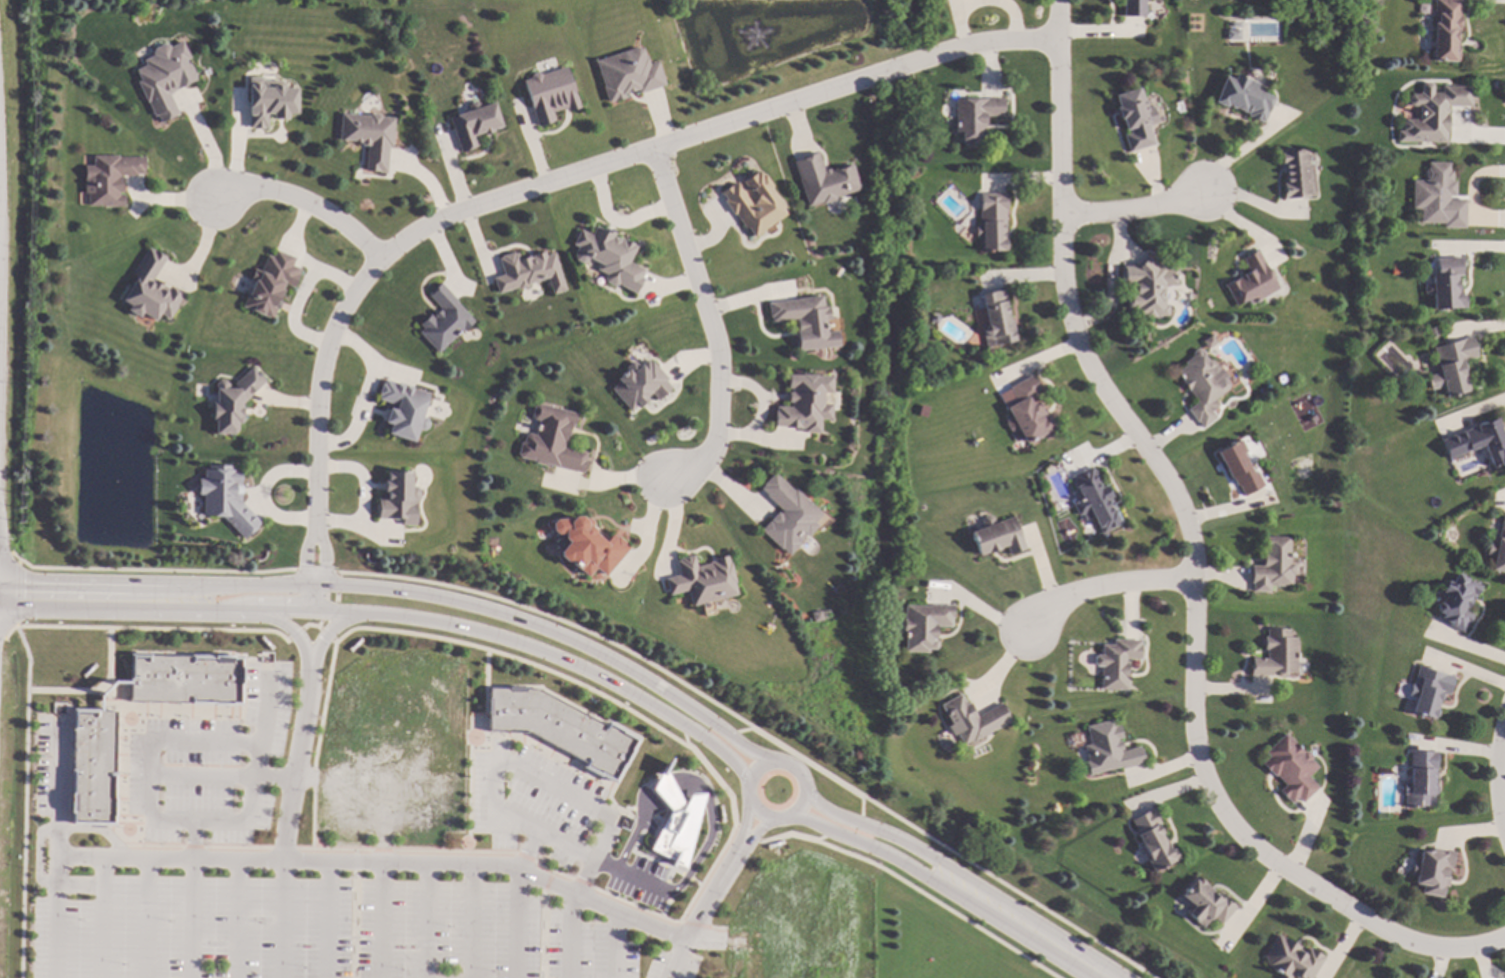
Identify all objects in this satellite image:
building: (1132, 8)
building: (1420, 8)
building: (1233, 24)
building: (1444, 30)
building: (1232, 34)
building: (626, 73)
building: (163, 78)
building: (548, 93)
building: (1243, 96)
building: (267, 102)
building: (1431, 111)
building: (974, 116)
building: (1134, 118)
building: (472, 125)
building: (367, 136)
road: (207, 147)
road: (577, 175)
building: (1296, 175)
building: (108, 178)
building: (822, 178)
building: (1436, 197)
building: (753, 204)
road: (303, 205)
road: (1133, 208)
building: (991, 222)
building: (608, 257)
building: (526, 270)
building: (1251, 280)
building: (268, 283)
building: (1444, 283)
building: (1146, 287)
building: (148, 289)
building: (442, 318)
building: (934, 318)
building: (995, 318)
building: (803, 321)
road: (709, 325)
building: (1431, 331)
building: (1450, 366)
building: (638, 383)
building: (1202, 385)
road: (364, 395)
building: (231, 399)
building: (803, 404)
building: (403, 410)
building: (1025, 410)
building: (921, 411)
building: (549, 439)
building: (1476, 441)
building: (1240, 466)
road: (606, 482)
building: (397, 498)
building: (224, 499)
building: (1093, 499)
building: (785, 516)
road: (645, 531)
building: (995, 534)
building: (586, 544)
building: (1498, 548)
road: (6, 553)
road: (1194, 556)
building: (1275, 565)
road: (305, 569)
road: (150, 570)
road: (322, 571)
building: (701, 580)
road: (220, 585)
road: (1107, 587)
road: (17, 593)
road: (52, 597)
road: (307, 598)
road: (334, 598)
building: (1457, 602)
road: (216, 610)
building: (815, 615)
road: (251, 617)
road: (322, 618)
road: (555, 618)
building: (923, 625)
road: (543, 627)
road: (329, 632)
road: (345, 632)
road: (2, 637)
road: (525, 644)
building: (1277, 654)
building: (1115, 662)
building: (183, 677)
building: (1428, 690)
road: (95, 693)
road: (112, 699)
road: (266, 707)
building: (971, 719)
building: (558, 726)
road: (739, 731)
road: (682, 734)
road: (252, 744)
road: (317, 747)
road: (746, 748)
building: (1107, 748)
road: (468, 750)
road: (727, 755)
road: (806, 762)
building: (90, 765)
road: (789, 767)
building: (1290, 767)
parking lot: (207, 768)
road: (523, 774)
road: (156, 776)
road: (1496, 776)
building: (1420, 779)
road: (717, 783)
road: (24, 801)
parking lot: (528, 802)
road: (860, 811)
building: (674, 819)
road: (286, 823)
road: (743, 830)
road: (745, 834)
road: (785, 835)
road: (751, 837)
road: (821, 837)
building: (1153, 838)
road: (56, 852)
road: (341, 852)
road: (530, 853)
road: (38, 858)
road: (396, 865)
building: (1431, 871)
road: (958, 876)
road: (1007, 887)
road: (947, 893)
building: (1205, 904)
road: (934, 905)
road: (353, 915)
road: (699, 917)
road: (101, 919)
road: (146, 919)
road: (191, 919)
road: (236, 920)
road: (328, 921)
road: (381, 921)
road: (427, 922)
road: (471, 922)
road: (518, 924)
parking lot: (312, 933)
road: (570, 936)
road: (615, 946)
building: (1290, 958)

